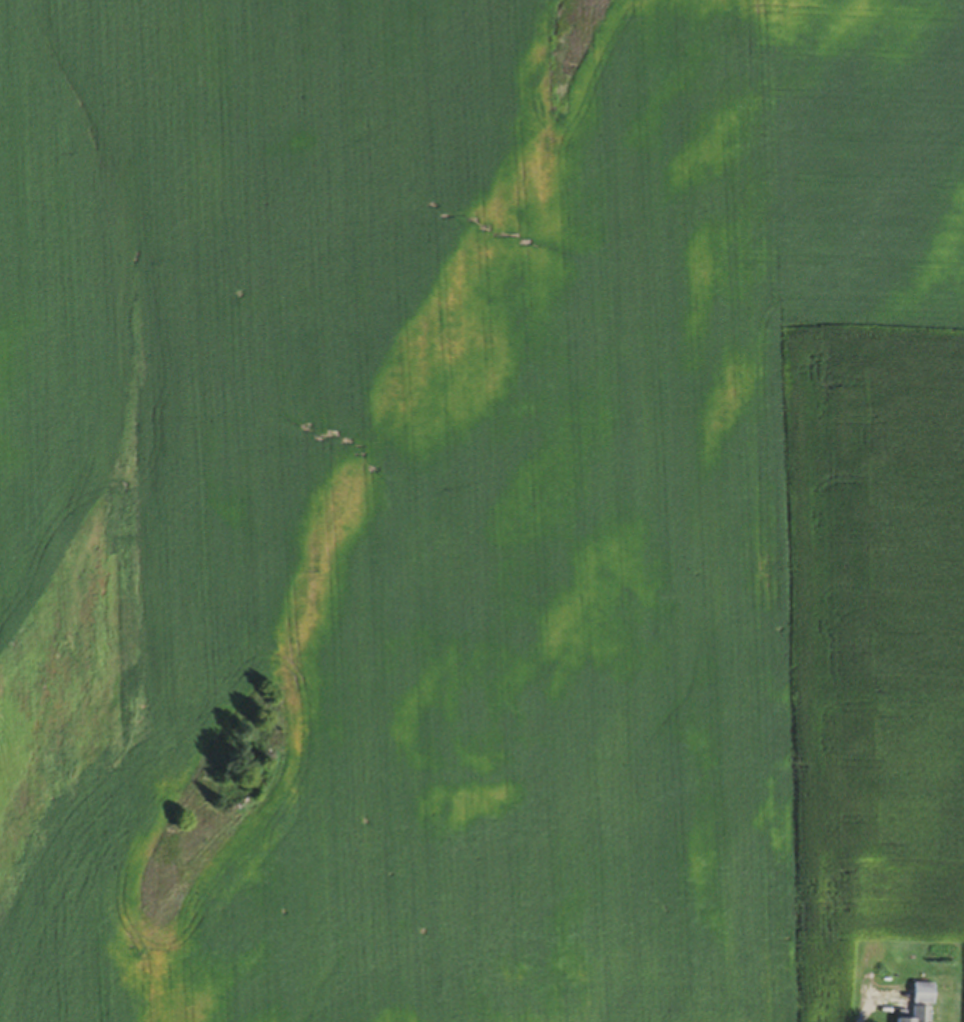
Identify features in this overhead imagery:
building: (918, 996)
road: (862, 1004)
building: (916, 1015)
building: (894, 1021)

